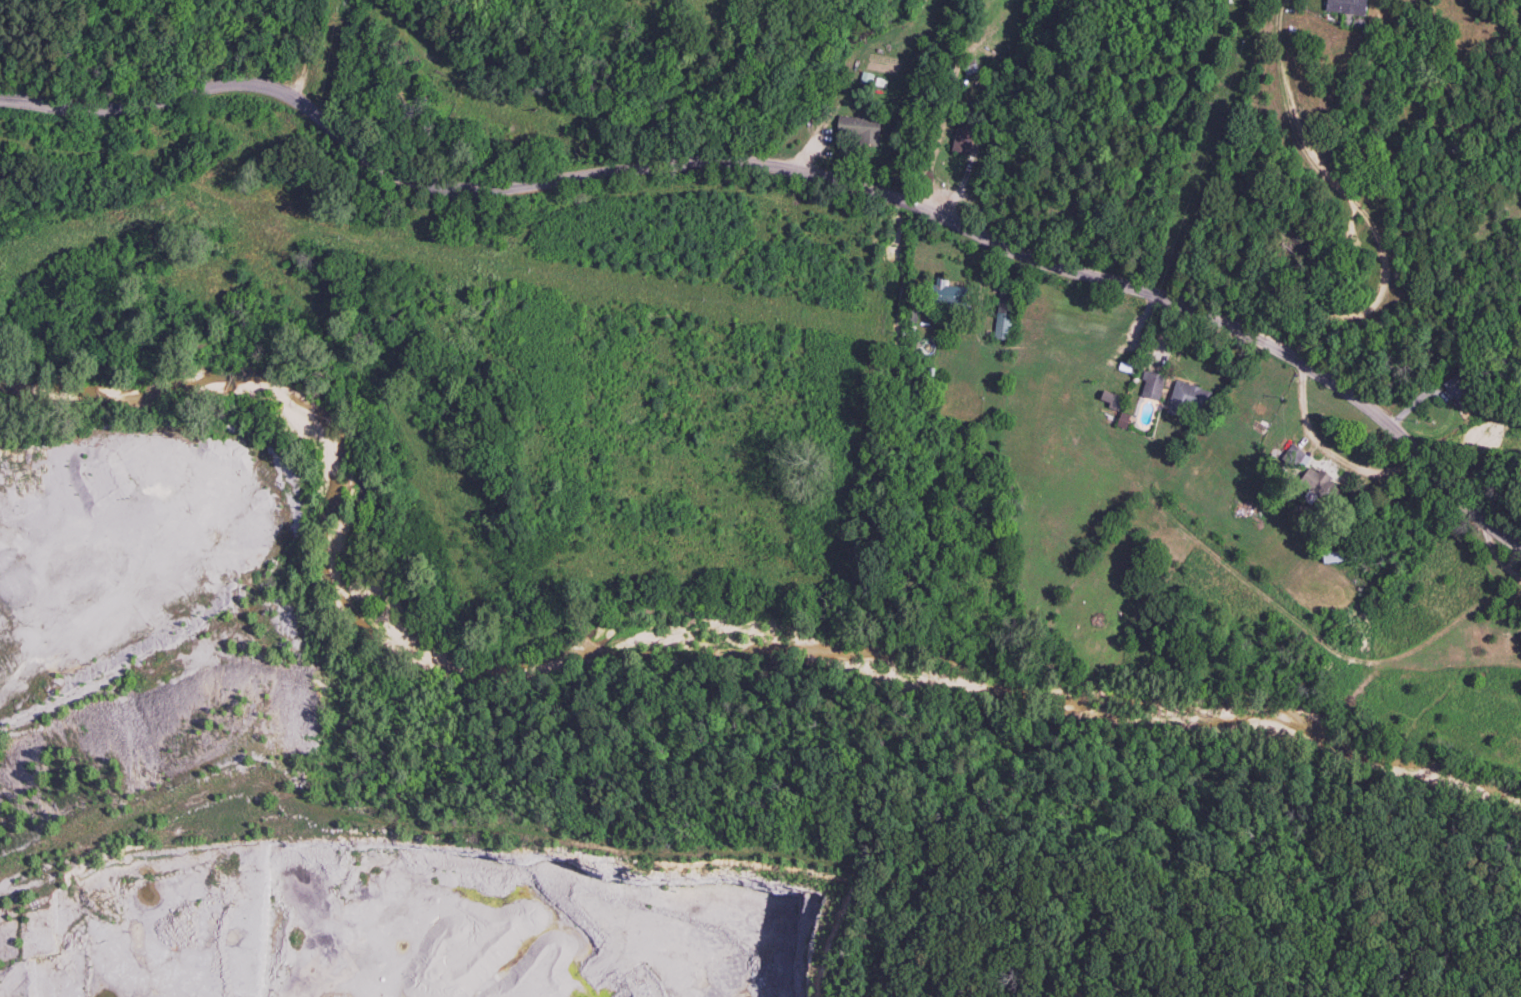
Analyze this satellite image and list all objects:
building: (1347, 6)
road: (676, 83)
building: (858, 128)
building: (962, 137)
road: (792, 169)
building: (946, 292)
building: (1003, 316)
building: (1151, 385)
building: (1111, 399)
building: (1186, 400)
road: (1328, 452)
building: (1321, 483)
building: (1335, 553)
road: (350, 972)

